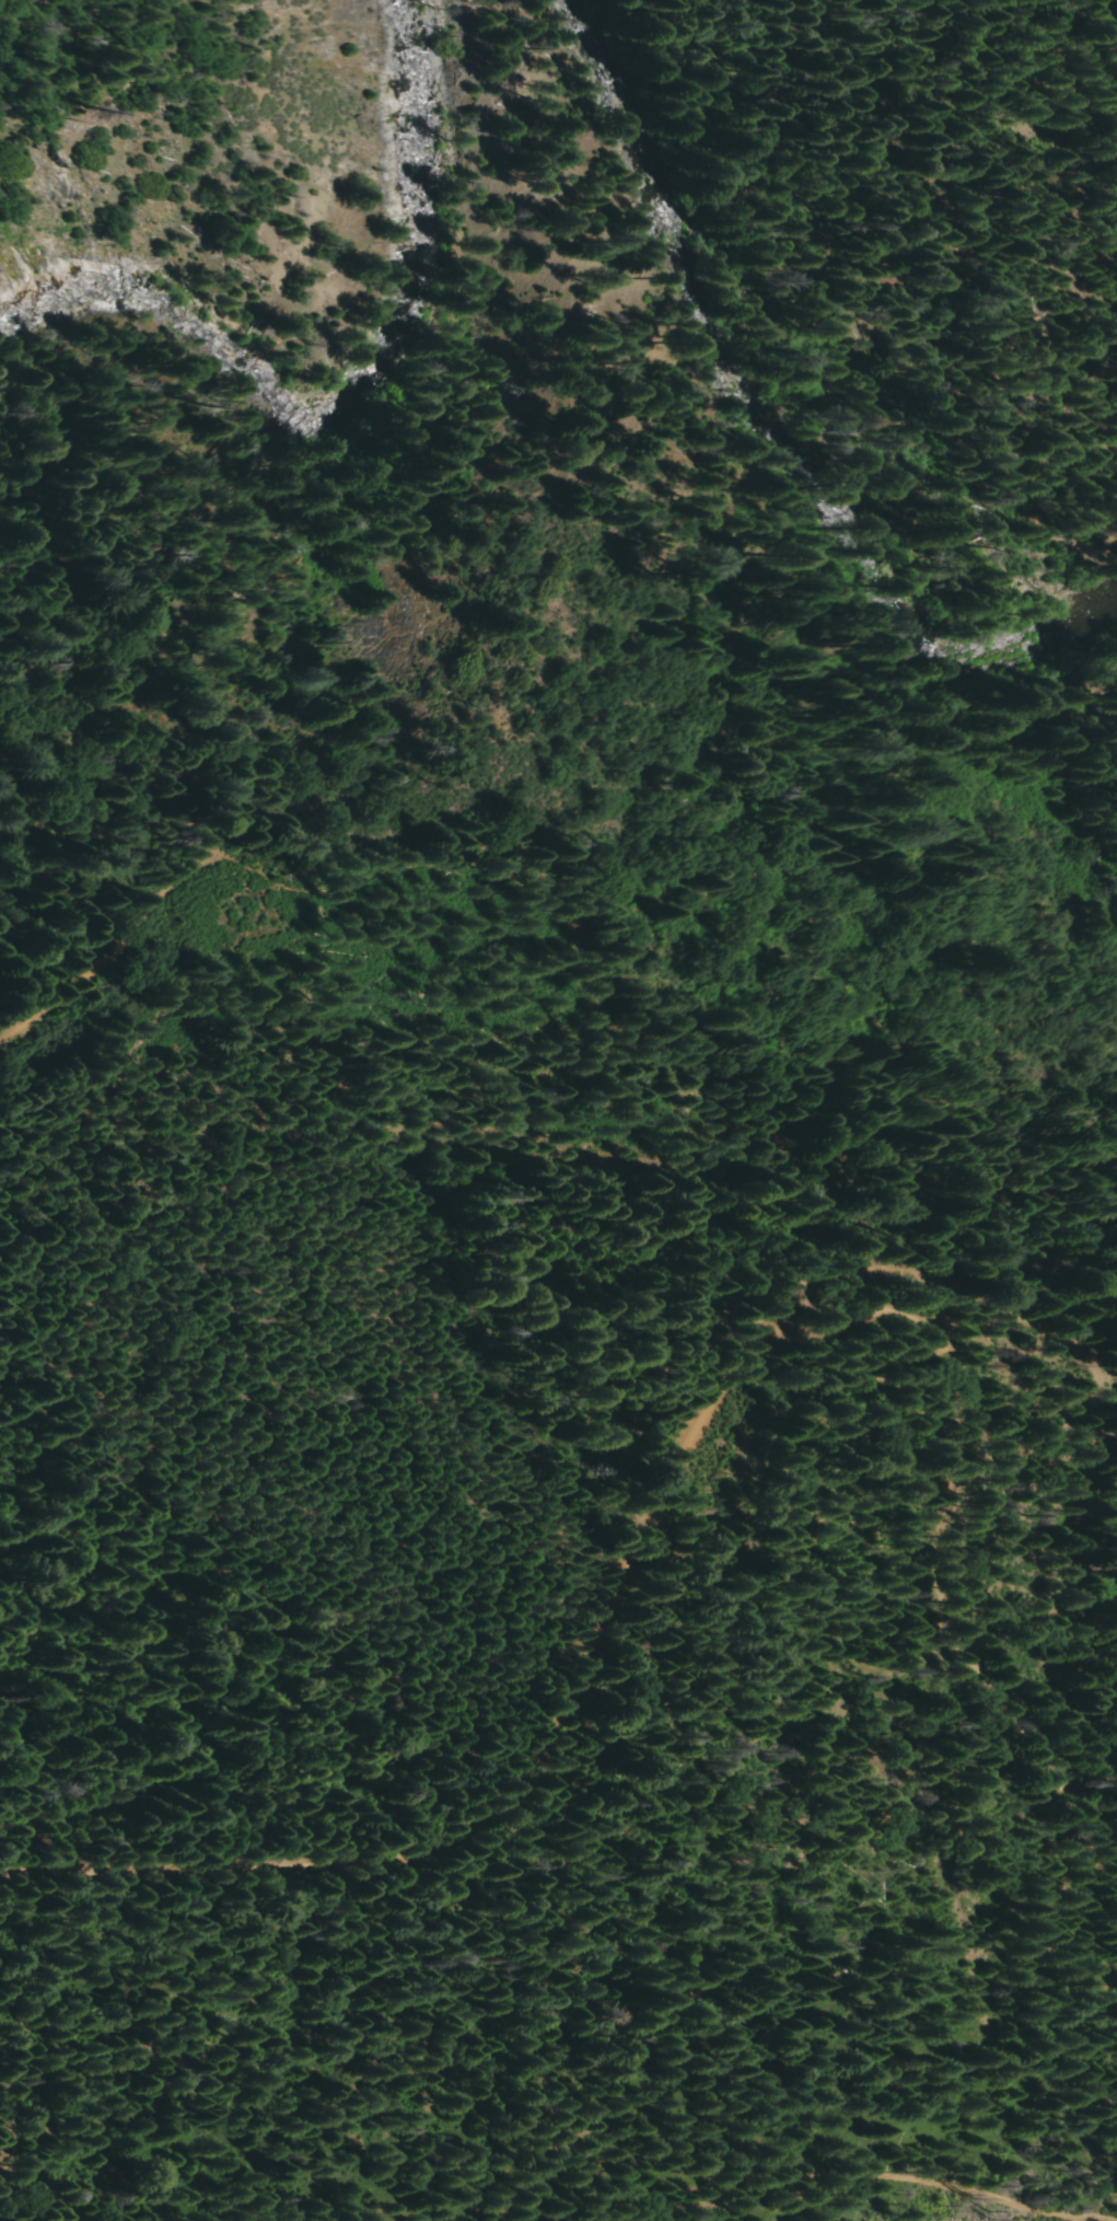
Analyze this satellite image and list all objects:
river: (726, 310)
river: (356, 387)
river: (1008, 670)
road: (1027, 1318)
road: (1084, 1531)
road: (969, 1623)
road: (558, 1722)
road: (773, 2191)

